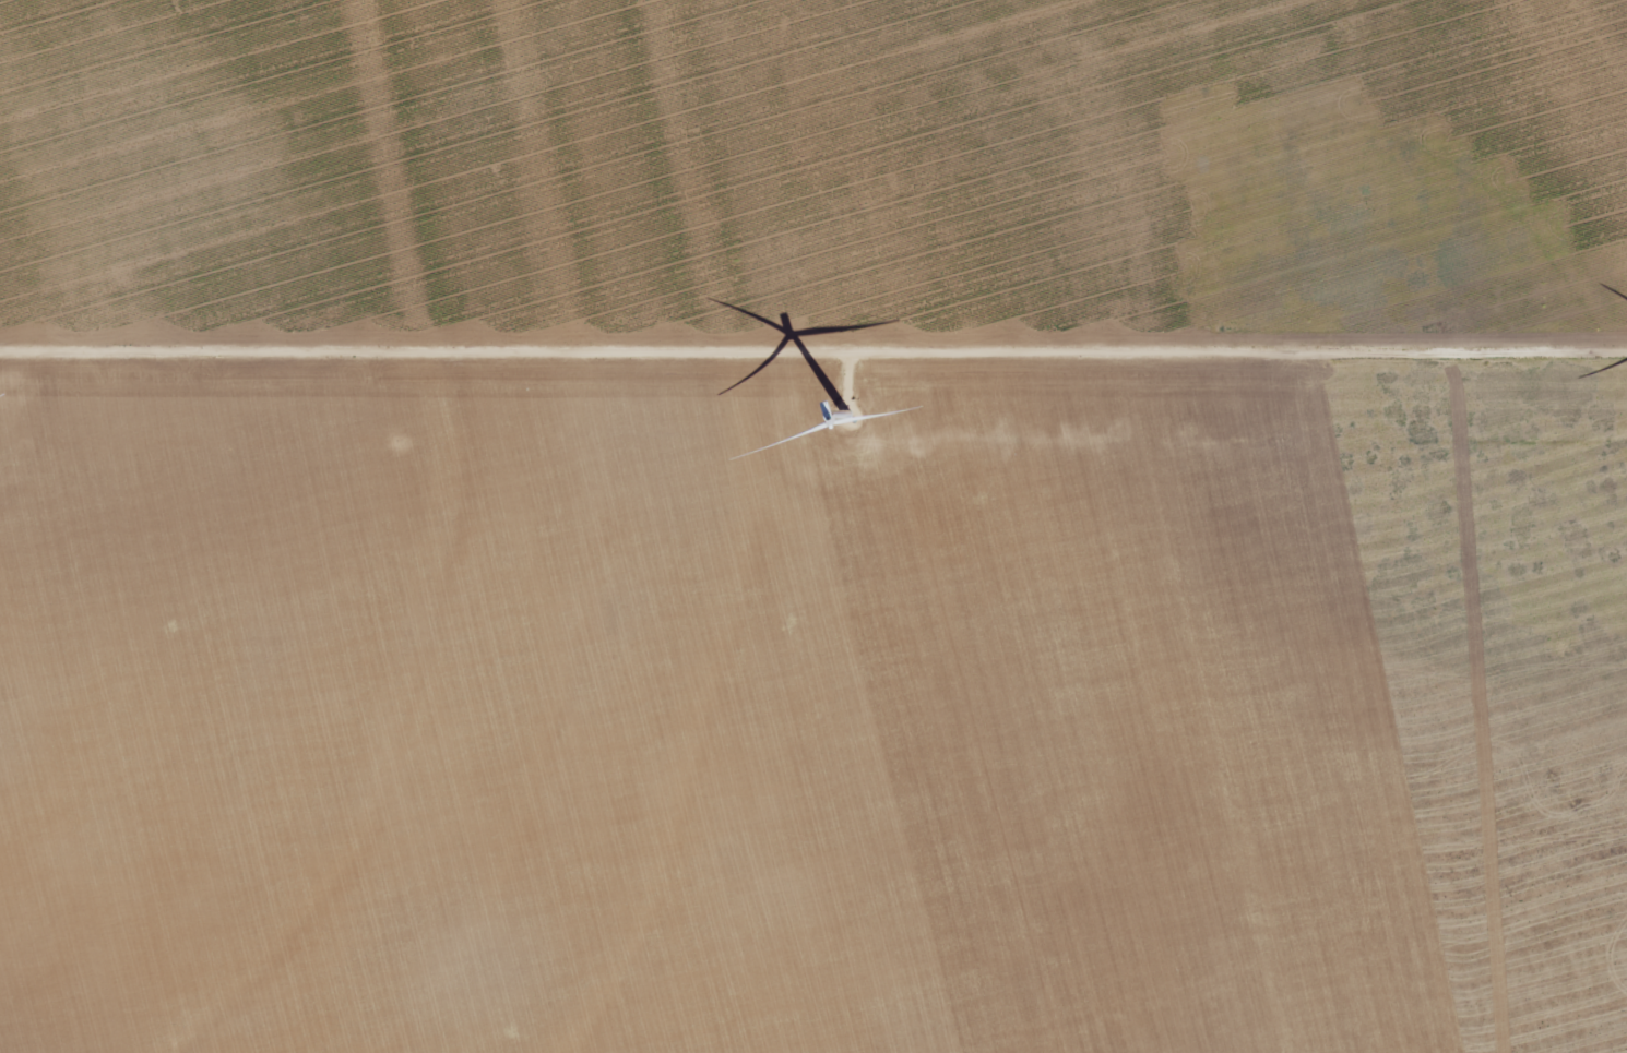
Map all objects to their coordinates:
wind turbine: (846, 417)

